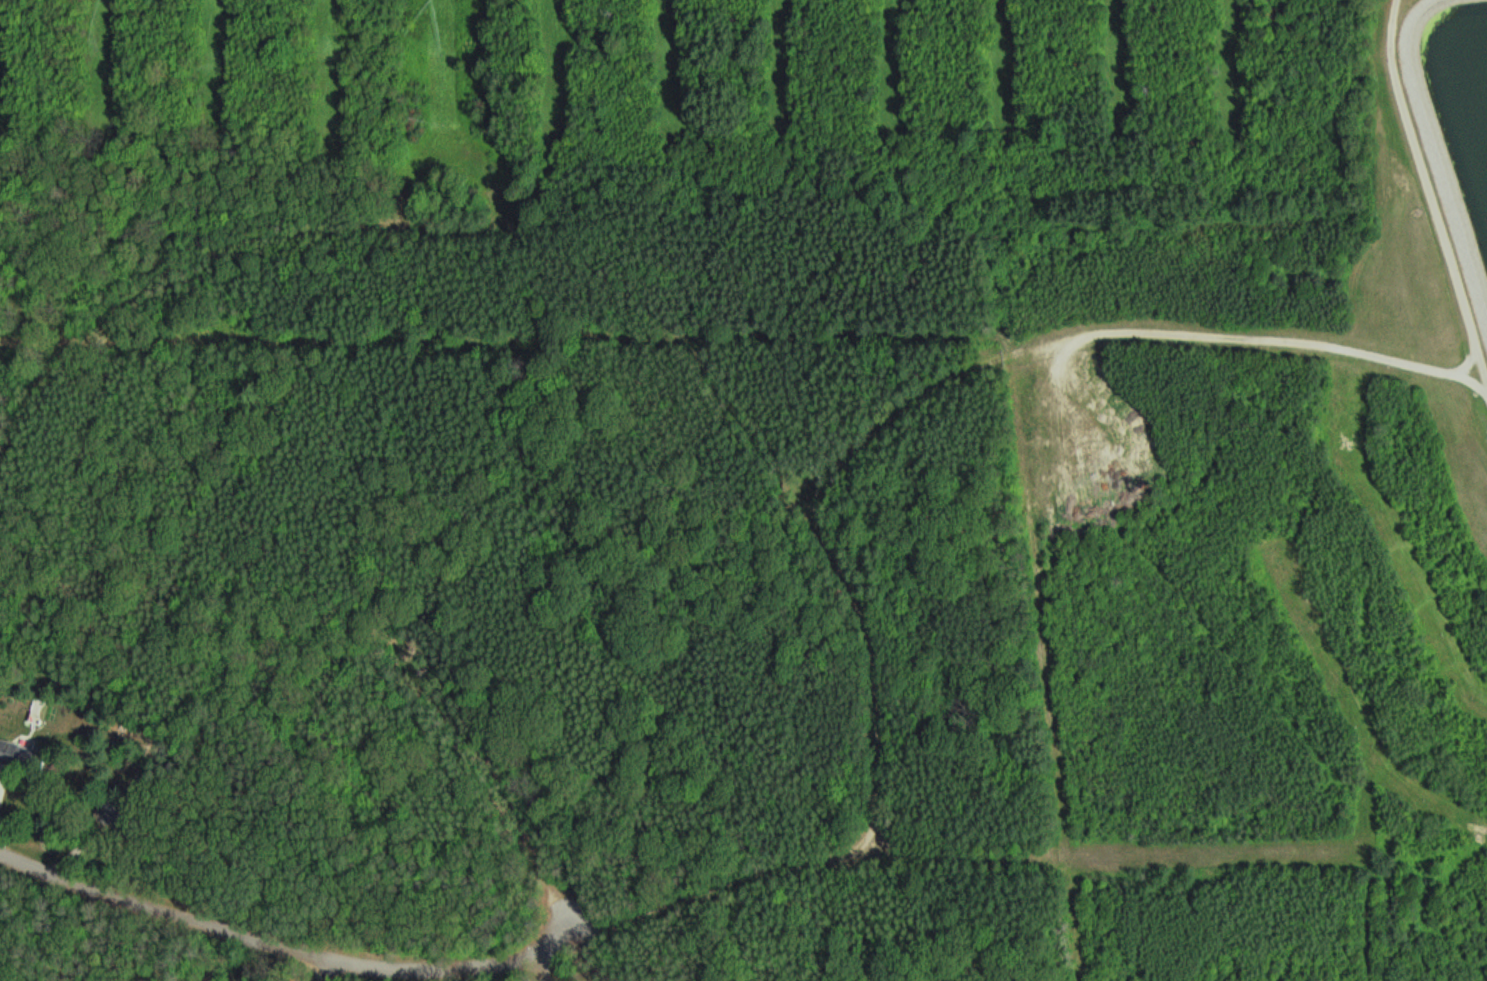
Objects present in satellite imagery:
wastewater plant: (1428, 359)
building: (14, 753)
road: (681, 901)

